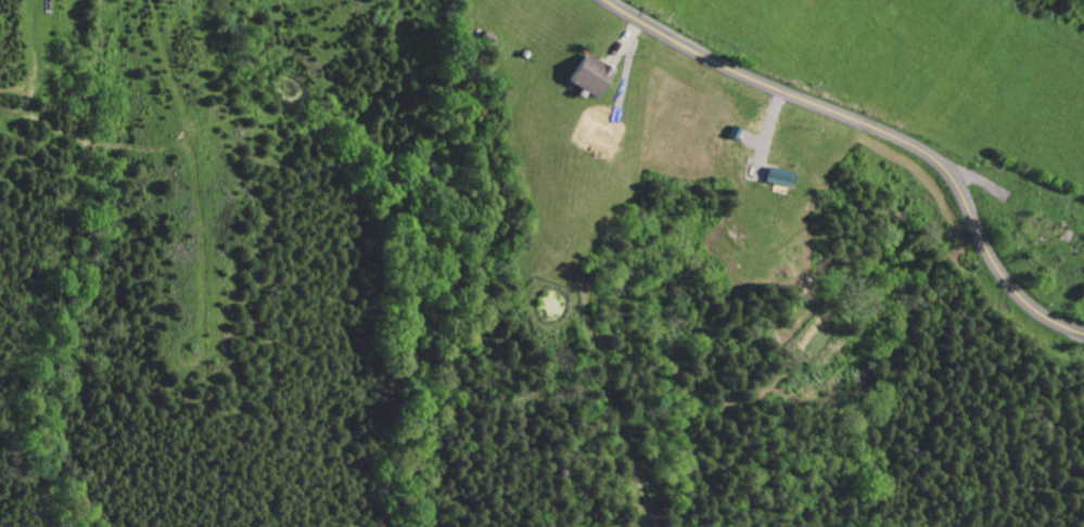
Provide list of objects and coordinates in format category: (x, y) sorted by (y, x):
building: (591, 76)
road: (875, 128)
building: (780, 177)

